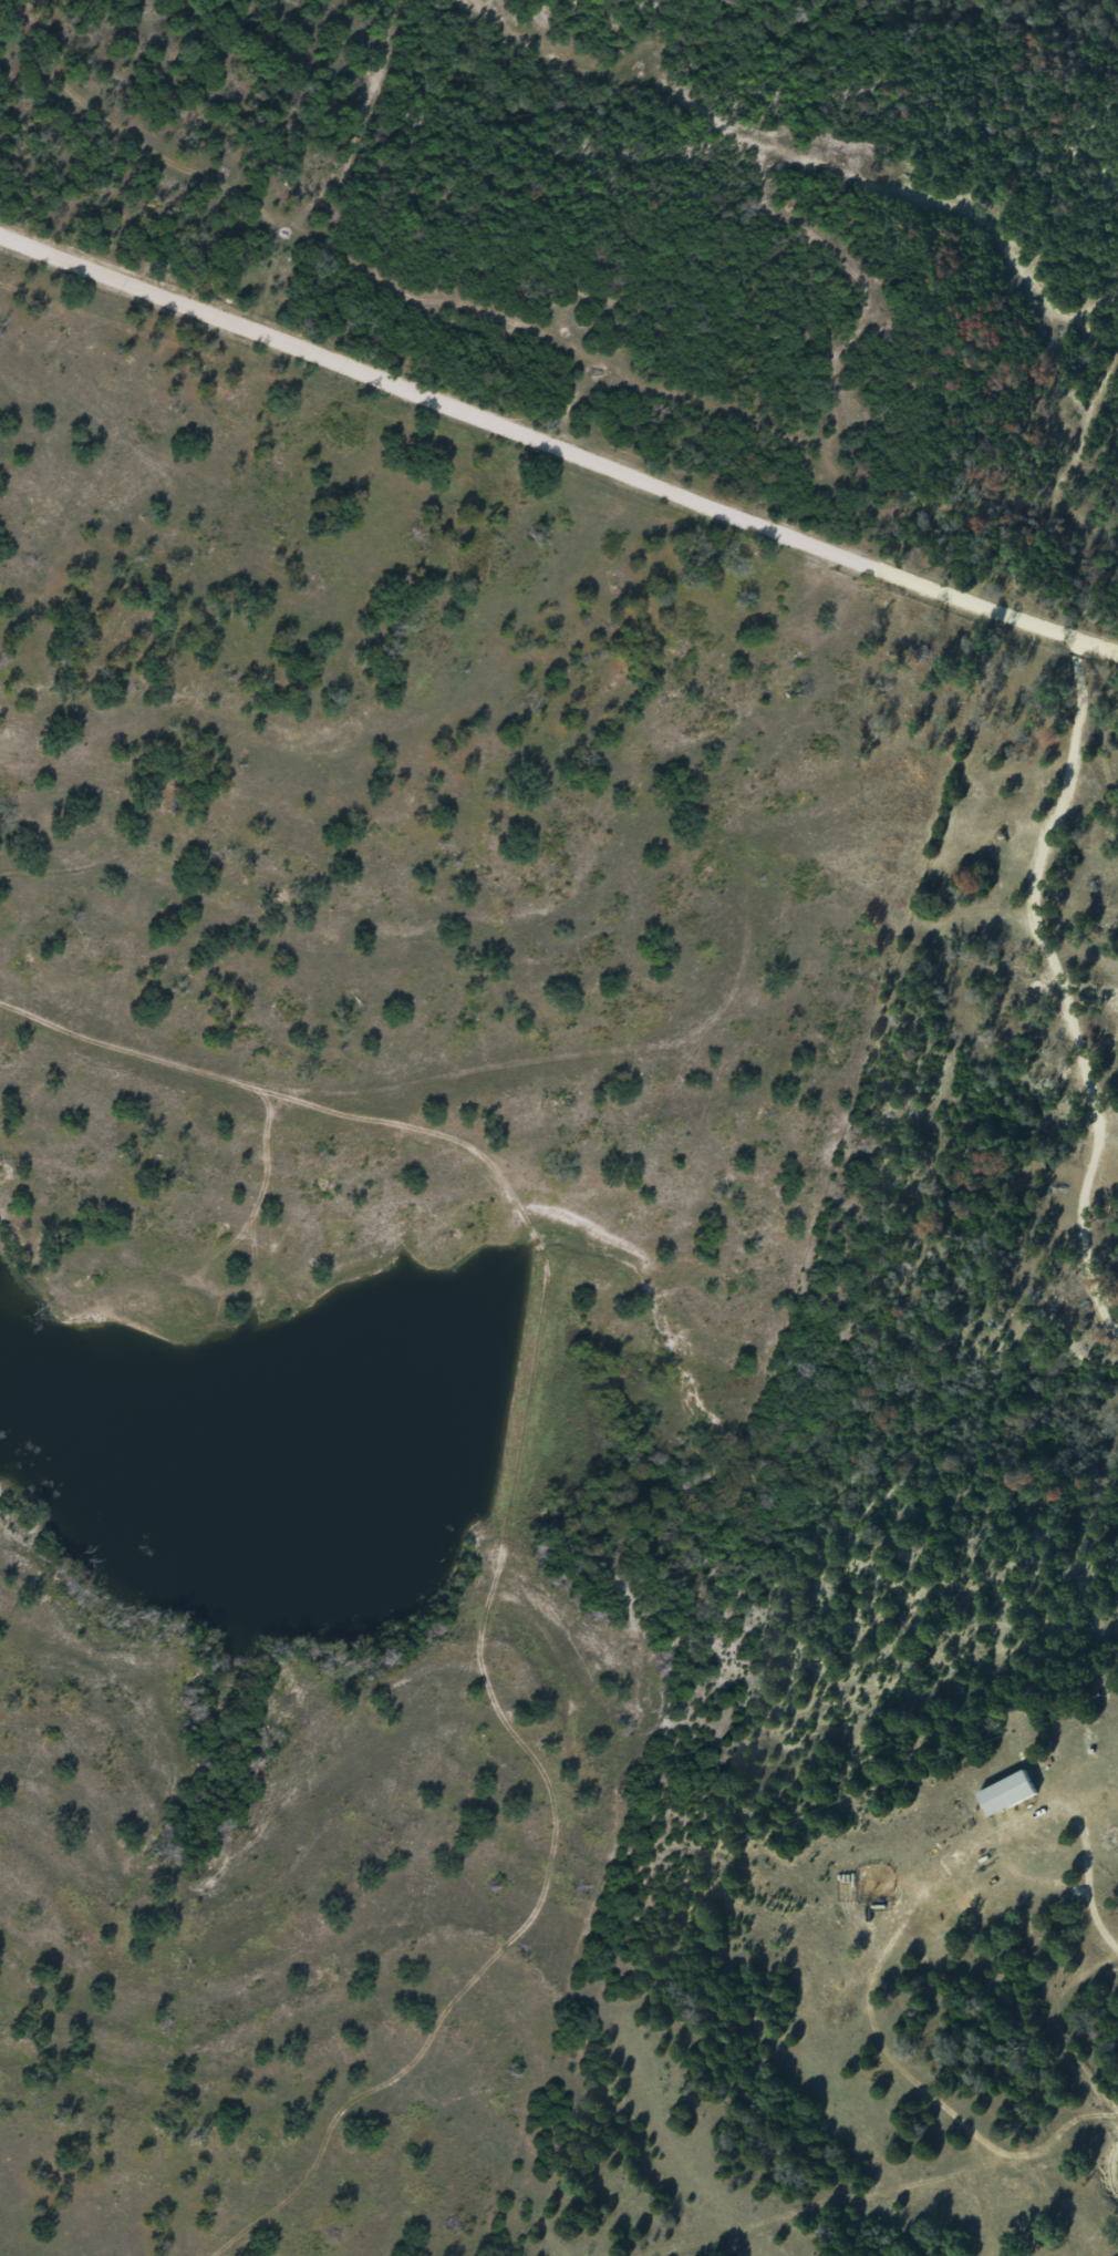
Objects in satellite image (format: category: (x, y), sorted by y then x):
building: (1006, 1793)

